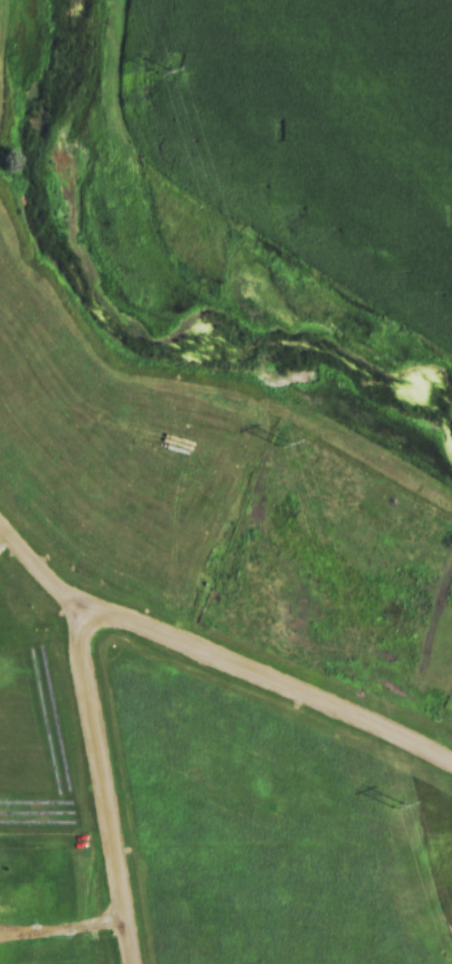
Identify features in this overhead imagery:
power tower: (162, 71)
power tower: (281, 444)
road: (40, 573)
road: (269, 682)
road: (102, 789)
power tower: (397, 806)
road: (62, 929)

